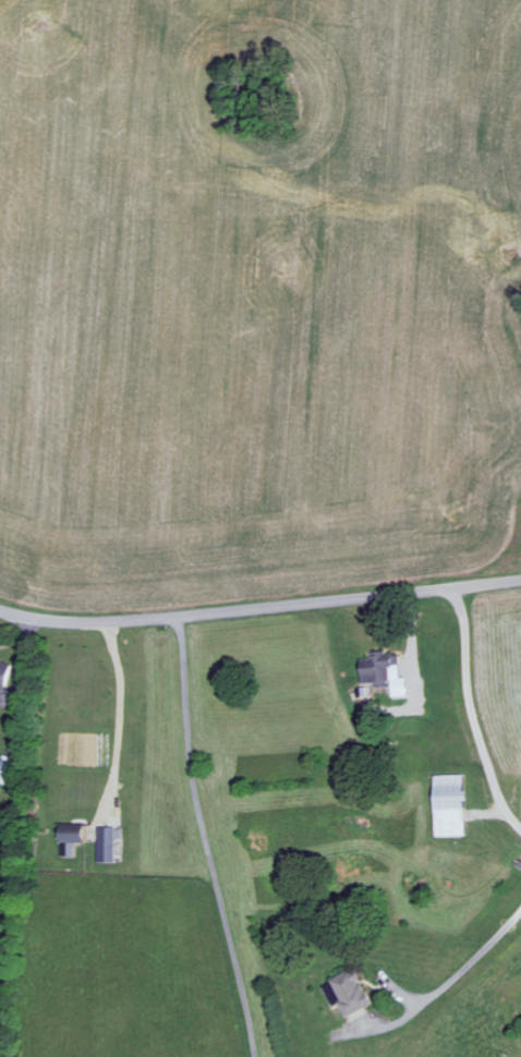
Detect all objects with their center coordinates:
road: (259, 608)
building: (5, 671)
building: (387, 671)
road: (117, 716)
road: (462, 717)
building: (452, 805)
building: (73, 837)
road: (198, 837)
building: (107, 843)
building: (350, 993)

